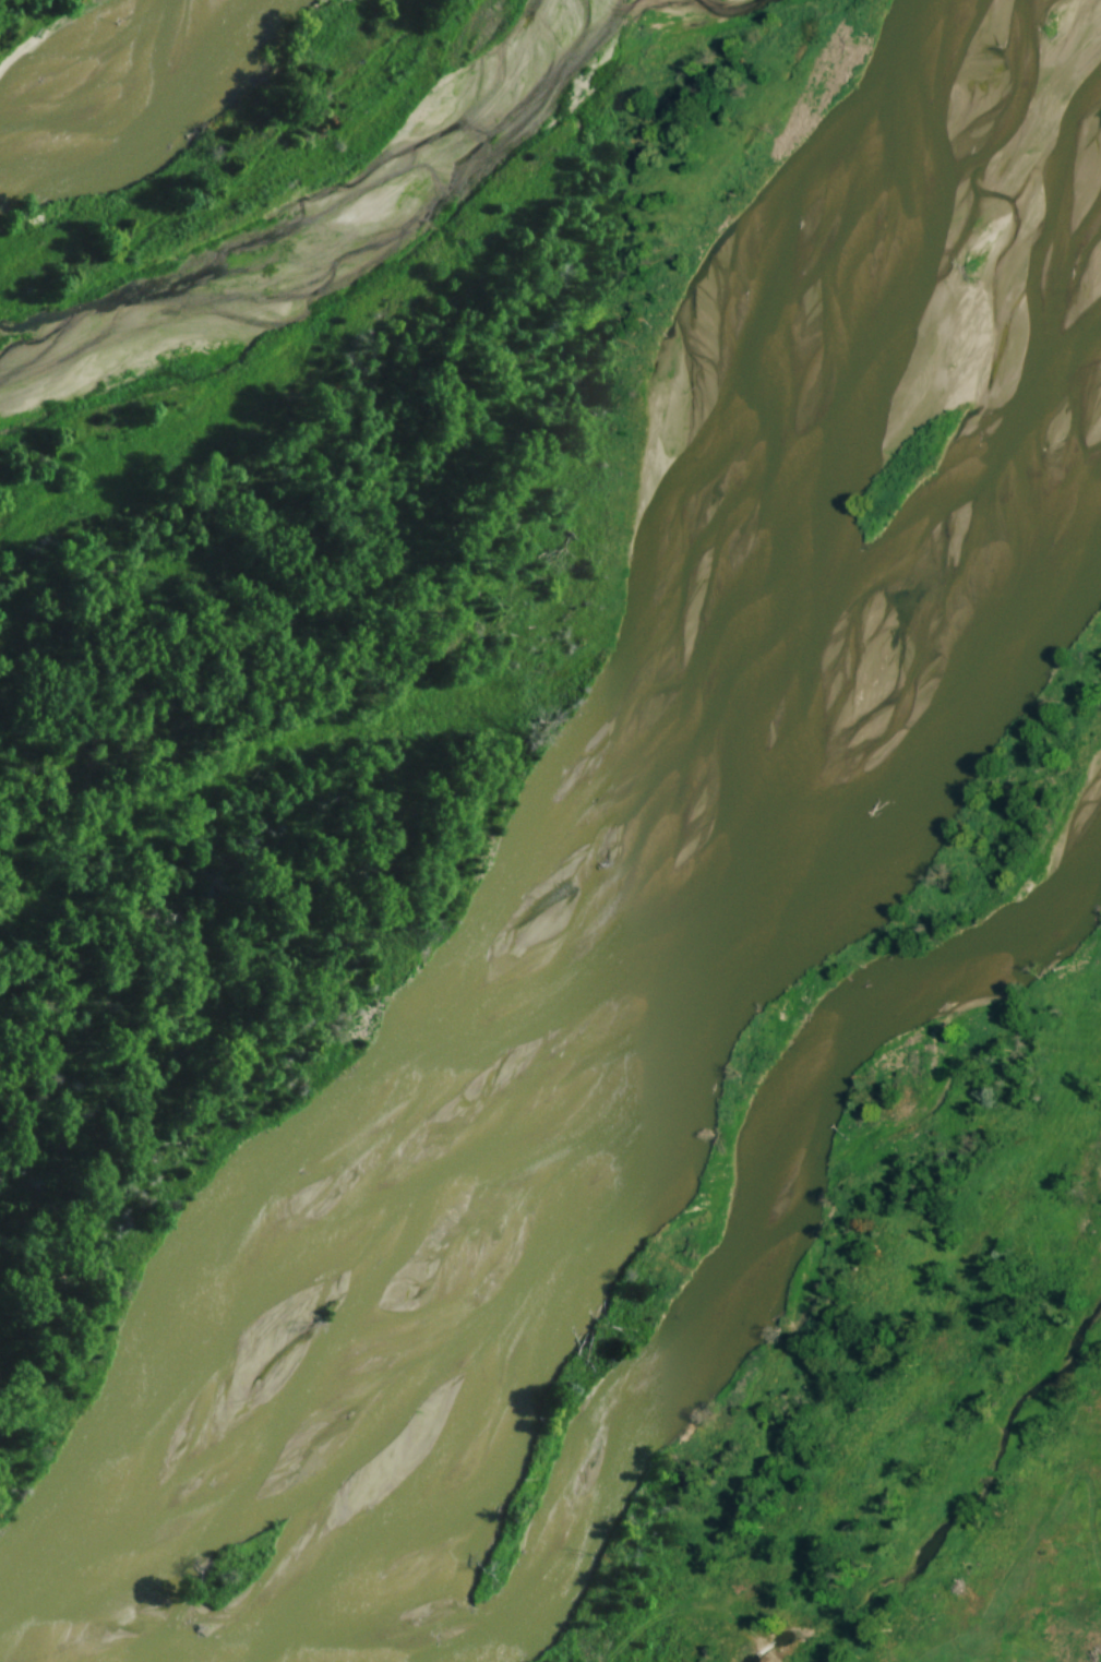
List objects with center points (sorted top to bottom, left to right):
river: (611, 940)

